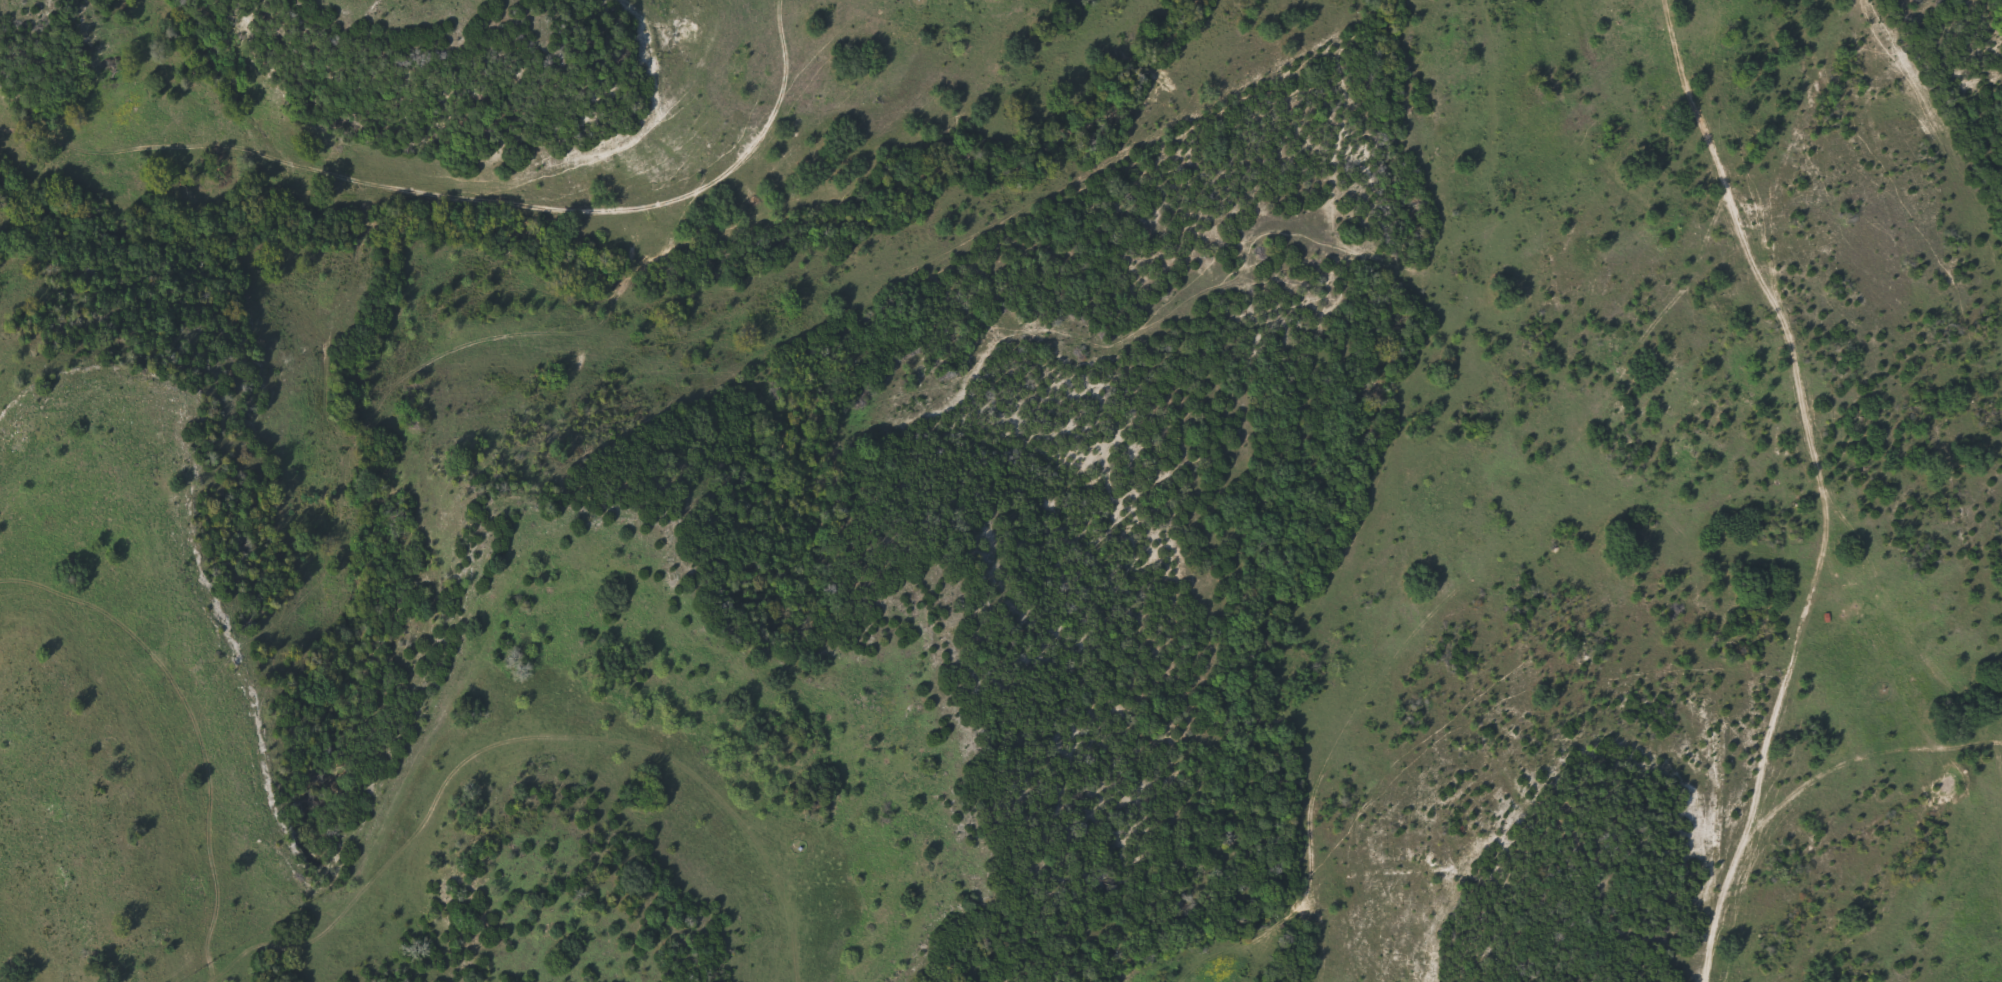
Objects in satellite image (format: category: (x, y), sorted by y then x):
road: (593, 208)
road: (1827, 509)
road: (1931, 666)

